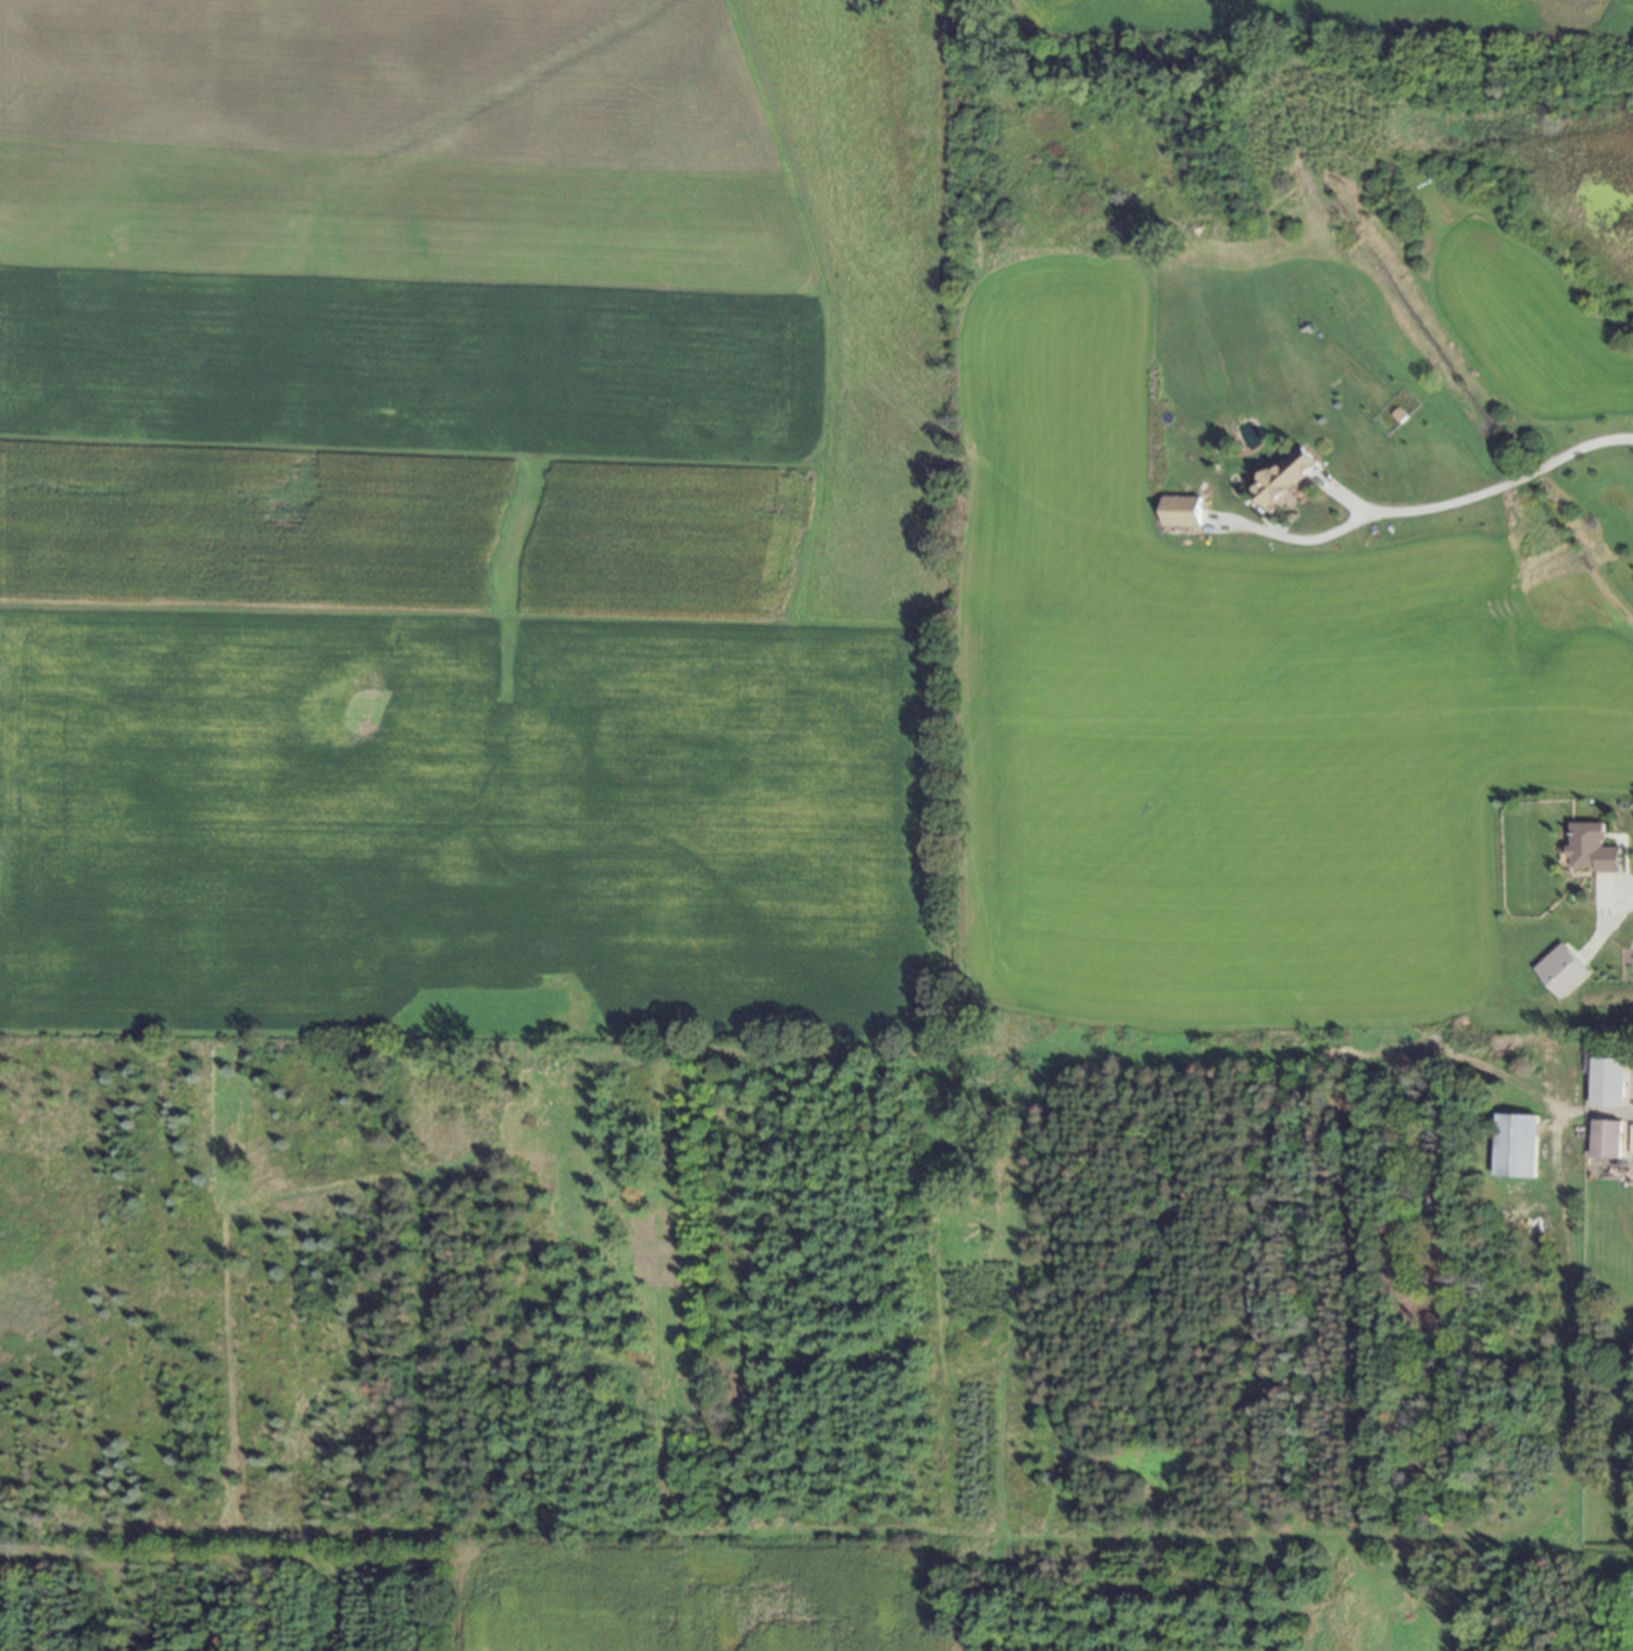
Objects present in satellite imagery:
building: (1396, 413)
building: (1285, 479)
road: (1345, 499)
road: (1423, 511)
building: (1181, 513)
building: (1591, 846)
road: (1621, 896)
building: (1559, 967)
building: (1603, 1075)
building: (1604, 1136)
building: (1515, 1147)

